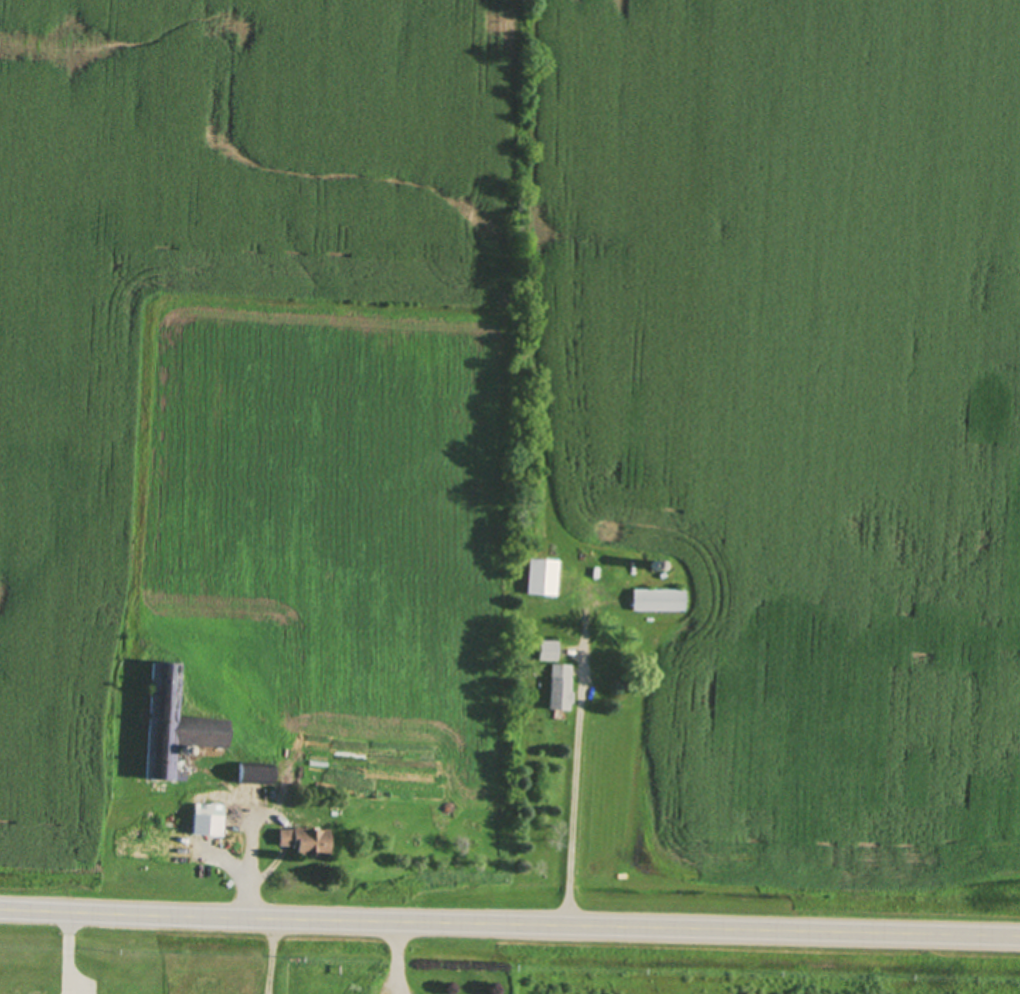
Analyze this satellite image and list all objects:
building: (654, 565)
building: (540, 576)
building: (657, 600)
building: (547, 649)
building: (558, 686)
building: (174, 724)
building: (183, 750)
building: (254, 772)
building: (213, 823)
building: (303, 839)
building: (152, 846)
road: (509, 926)
building: (206, 985)

